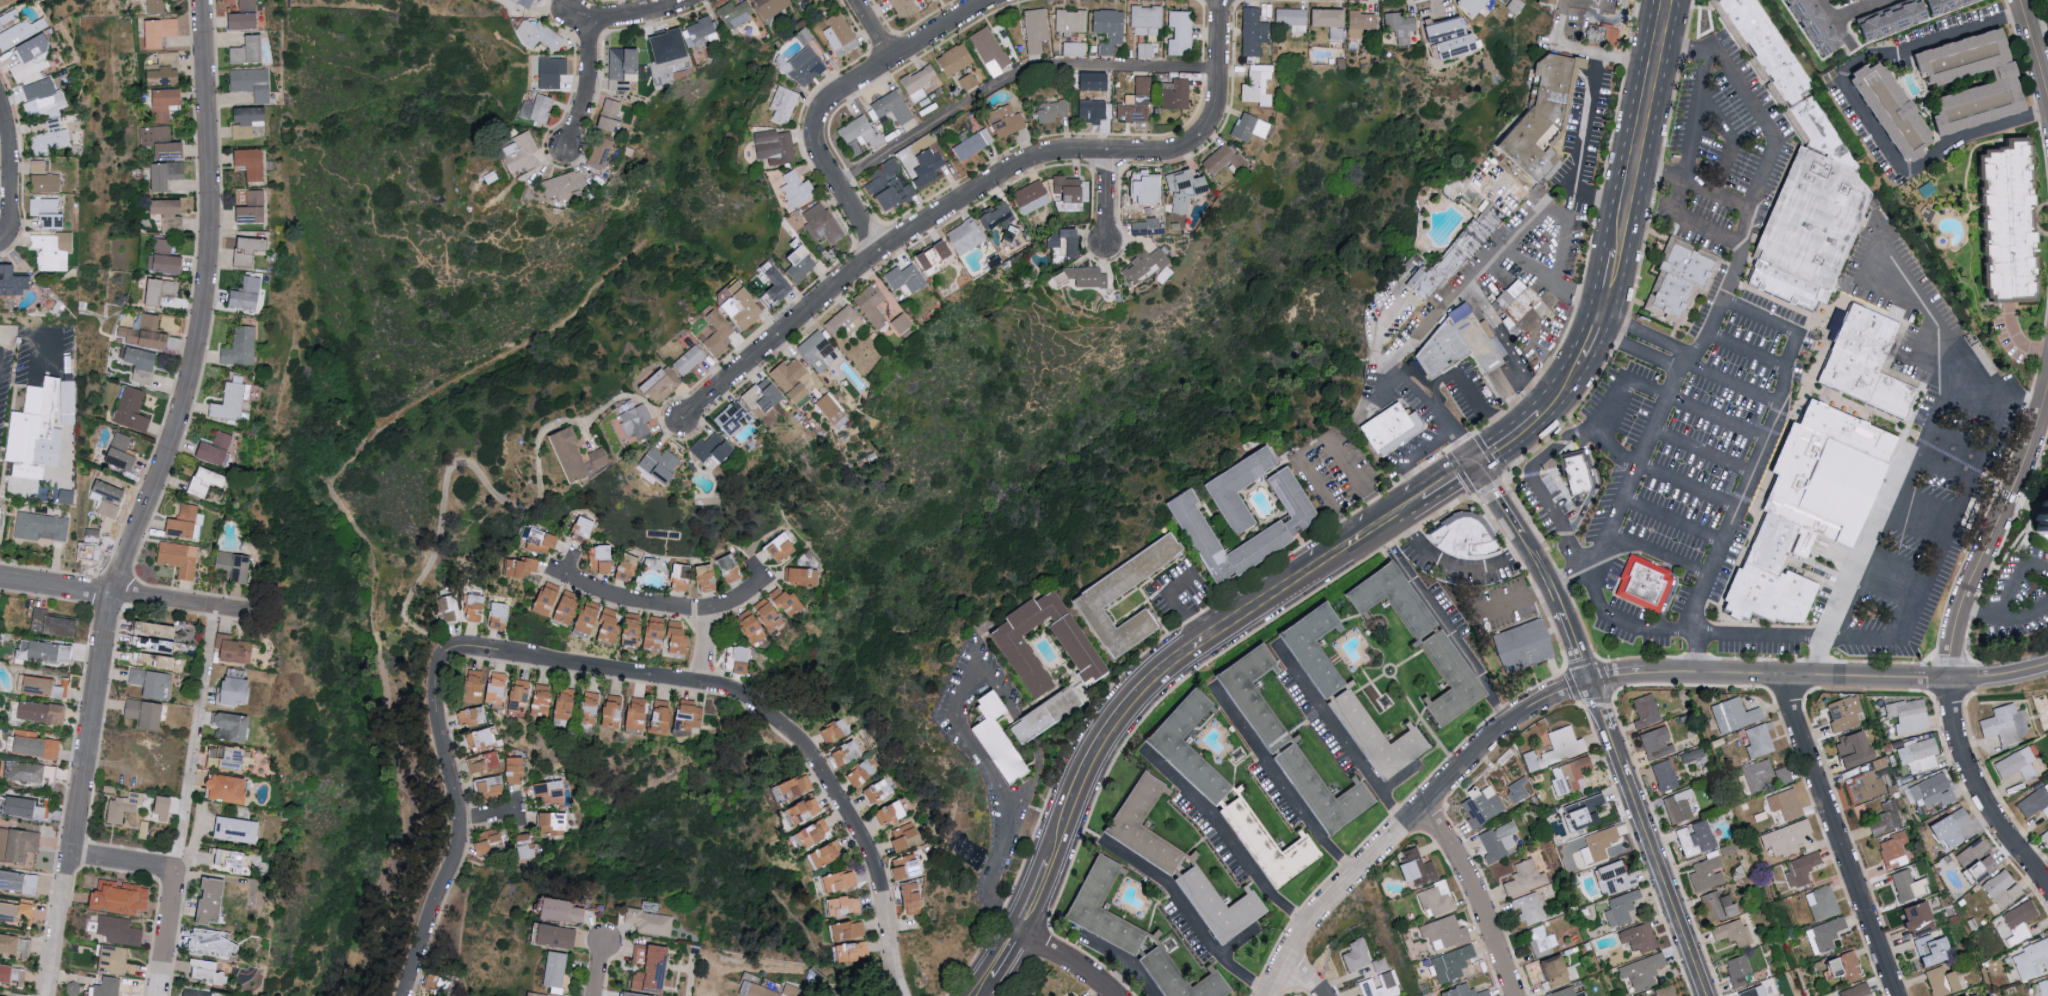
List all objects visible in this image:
building: (541, 0)
building: (932, 0)
building: (1552, 1)
building: (7, 2)
building: (526, 2)
road: (1869, 2)
building: (247, 5)
building: (1474, 5)
building: (1943, 5)
building: (157, 6)
building: (1515, 6)
road: (1584, 6)
building: (906, 8)
road: (1858, 9)
building: (737, 14)
building: (9, 17)
road: (633, 18)
building: (1147, 20)
building: (1293, 20)
building: (245, 21)
building: (1071, 21)
road: (1836, 21)
building: (1333, 22)
building: (1889, 22)
building: (1362, 24)
building: (1811, 25)
building: (1401, 26)
road: (2038, 27)
building: (1110, 29)
building: (1037, 30)
building: (21, 31)
building: (161, 31)
road: (873, 32)
building: (1255, 32)
building: (700, 33)
building: (1182, 33)
building: (540, 35)
building: (841, 35)
building: (1604, 38)
building: (665, 41)
road: (1682, 45)
road: (2034, 45)
building: (989, 47)
building: (1074, 49)
building: (249, 50)
building: (1145, 50)
road: (1582, 51)
building: (32, 57)
building: (956, 59)
road: (1726, 64)
building: (165, 70)
building: (552, 72)
road: (1014, 75)
building: (1783, 77)
building: (253, 83)
building: (920, 85)
building: (1144, 85)
building: (1258, 85)
building: (1992, 85)
road: (588, 87)
building: (1177, 94)
road: (842, 95)
building: (166, 102)
building: (44, 104)
building: (784, 104)
building: (893, 107)
building: (1092, 108)
building: (538, 109)
road: (1854, 109)
building: (1053, 110)
building: (1133, 112)
building: (1887, 112)
building: (611, 113)
building: (248, 121)
building: (1009, 121)
building: (1547, 122)
road: (1640, 126)
building: (861, 131)
building: (52, 136)
road: (1729, 141)
building: (163, 142)
building: (973, 145)
building: (775, 146)
road: (1579, 150)
building: (524, 153)
building: (601, 153)
building: (1225, 160)
building: (253, 163)
road: (22, 167)
building: (928, 167)
road: (9, 169)
building: (166, 175)
building: (46, 183)
building: (566, 185)
building: (890, 185)
building: (1146, 186)
building: (798, 189)
building: (1071, 189)
building: (1186, 189)
road: (979, 191)
building: (1032, 197)
road: (1107, 198)
building: (254, 208)
building: (48, 213)
building: (170, 213)
building: (1002, 216)
road: (1564, 221)
building: (822, 222)
road: (1690, 224)
building: (2000, 225)
building: (1477, 227)
building: (1148, 228)
road: (1746, 230)
building: (1814, 232)
building: (966, 236)
road: (5, 239)
building: (1067, 241)
building: (53, 250)
building: (250, 250)
building: (937, 255)
building: (165, 259)
building: (801, 261)
building: (1145, 266)
building: (1090, 277)
building: (907, 278)
road: (1610, 279)
building: (14, 281)
building: (1682, 282)
building: (779, 287)
road: (1888, 288)
building: (162, 291)
building: (248, 294)
building: (873, 305)
road: (1924, 305)
building: (745, 306)
building: (1520, 307)
building: (844, 323)
building: (902, 323)
road: (1432, 324)
road: (1625, 328)
road: (1595, 331)
building: (146, 332)
building: (719, 333)
road: (22, 334)
road: (2013, 342)
road: (1, 343)
road: (1618, 343)
building: (240, 346)
building: (1475, 346)
road: (1510, 346)
road: (45, 351)
building: (820, 351)
building: (1438, 352)
road: (1746, 352)
road: (1915, 355)
building: (690, 360)
parking lot: (32, 362)
building: (143, 365)
building: (1870, 366)
building: (794, 380)
road: (1565, 383)
building: (662, 385)
road: (1732, 386)
building: (771, 395)
road: (1815, 396)
building: (67, 398)
building: (231, 400)
road: (1429, 401)
road: (2047, 402)
building: (132, 410)
building: (832, 411)
road: (1542, 411)
building: (733, 418)
road: (1443, 418)
road: (1718, 419)
building: (637, 422)
building: (32, 429)
road: (1523, 429)
road: (178, 432)
building: (1395, 432)
road: (1464, 446)
building: (216, 448)
building: (714, 448)
road: (1423, 450)
road: (1491, 452)
road: (1702, 452)
building: (122, 453)
building: (571, 455)
road: (1620, 456)
building: (599, 457)
traffic signals: (1478, 462)
road: (1635, 463)
building: (661, 465)
road: (1758, 465)
road: (1969, 466)
parking lot: (1331, 474)
building: (1575, 475)
building: (207, 481)
road: (1450, 481)
road: (1534, 482)
road: (1355, 484)
road: (1903, 484)
building: (1233, 491)
road: (492, 493)
building: (108, 498)
road: (1325, 502)
road: (1412, 506)
building: (1806, 514)
road: (1671, 521)
building: (185, 522)
building: (585, 526)
building: (40, 527)
building: (2040, 530)
building: (1278, 531)
road: (1409, 532)
road: (1949, 534)
building: (93, 537)
road: (1994, 537)
building: (540, 539)
road: (1359, 541)
building: (1466, 541)
building: (782, 547)
road: (1518, 553)
road: (1655, 554)
building: (603, 557)
building: (181, 558)
building: (727, 563)
building: (236, 565)
parking lot: (1458, 565)
building: (521, 566)
building: (629, 566)
road: (1462, 569)
road: (576, 570)
building: (685, 570)
building: (803, 575)
building: (708, 577)
road: (2016, 577)
building: (1124, 579)
building: (1646, 587)
road: (133, 594)
parking lot: (1176, 596)
building: (549, 599)
road: (741, 599)
road: (1513, 599)
road: (627, 600)
building: (791, 601)
building: (1387, 601)
building: (449, 607)
building: (475, 607)
road: (1263, 607)
building: (570, 608)
parking lot: (1498, 609)
road: (1177, 611)
building: (772, 612)
road: (1978, 617)
road: (2023, 617)
building: (592, 619)
building: (53, 623)
road: (1621, 623)
building: (755, 625)
building: (157, 628)
building: (623, 629)
building: (657, 634)
building: (680, 638)
road: (1777, 638)
building: (148, 641)
road: (1453, 642)
building: (235, 648)
road: (705, 648)
building: (1526, 649)
building: (1310, 650)
building: (47, 651)
building: (1081, 655)
building: (738, 658)
building: (160, 659)
road: (1685, 672)
road: (1999, 675)
road: (1865, 678)
building: (152, 681)
building: (476, 681)
road: (967, 683)
building: (1447, 683)
building: (44, 686)
building: (237, 688)
building: (496, 689)
building: (521, 696)
building: (1251, 699)
building: (543, 700)
building: (564, 702)
building: (592, 707)
building: (1643, 710)
building: (43, 712)
building: (146, 712)
building: (627, 712)
building: (1842, 712)
building: (1732, 714)
building: (1907, 715)
building: (663, 716)
road: (765, 717)
building: (1045, 717)
building: (690, 718)
road: (1605, 722)
building: (2002, 724)
building: (234, 726)
building: (836, 730)
road: (1105, 736)
road: (195, 737)
road: (1337, 737)
building: (480, 738)
building: (996, 738)
building: (1372, 739)
building: (1756, 740)
building: (1654, 742)
building: (1559, 745)
building: (37, 746)
building: (1850, 748)
building: (847, 752)
building: (1917, 754)
building: (485, 762)
building: (2012, 764)
building: (1183, 767)
building: (517, 770)
building: (29, 771)
building: (51, 771)
building: (860, 772)
building: (1567, 774)
building: (1662, 775)
building: (1763, 775)
road: (1278, 785)
building: (232, 787)
building: (491, 787)
building: (1863, 787)
building: (794, 788)
building: (879, 791)
building: (1929, 791)
building: (552, 792)
road: (1975, 792)
building: (1317, 794)
road: (1020, 801)
building: (2032, 802)
building: (1479, 804)
building: (1782, 805)
building: (1676, 806)
building: (25, 807)
building: (124, 807)
building: (166, 808)
building: (1134, 808)
building: (804, 810)
building: (893, 812)
building: (1577, 815)
road: (491, 816)
road: (1407, 816)
building: (1882, 818)
road: (462, 821)
building: (553, 823)
building: (1946, 827)
building: (239, 829)
building: (813, 833)
road: (1840, 835)
building: (907, 836)
building: (2044, 836)
building: (1782, 838)
building: (1692, 839)
road: (1224, 840)
building: (1496, 840)
building: (489, 841)
building: (18, 843)
building: (525, 846)
building: (1594, 846)
building: (1265, 847)
building: (1891, 849)
building: (826, 853)
building: (234, 857)
building: (1972, 858)
road: (123, 859)
building: (907, 866)
building: (1412, 867)
building: (1799, 868)
building: (1704, 873)
road: (993, 875)
building: (1522, 877)
building: (1611, 877)
building: (838, 880)
building: (1902, 884)
building: (2000, 889)
road: (1477, 894)
building: (121, 897)
road: (1032, 898)
building: (1434, 898)
building: (916, 899)
building: (215, 900)
building: (1820, 902)
building: (843, 905)
building: (1714, 905)
building: (1527, 907)
building: (1617, 908)
building: (1216, 909)
building: (563, 910)
building: (9, 911)
building: (1098, 911)
building: (28, 912)
building: (1911, 914)
road: (1187, 917)
building: (651, 921)
building: (2015, 921)
road: (59, 923)
building: (119, 930)
building: (848, 930)
road: (166, 932)
building: (1441, 932)
building: (1730, 932)
building: (1824, 933)
building: (558, 936)
building: (1636, 937)
building: (1539, 940)
building: (214, 942)
building: (12, 944)
building: (1928, 949)
building: (852, 951)
building: (1354, 954)
road: (1003, 955)
building: (2030, 958)
building: (116, 959)
road: (1067, 960)
building: (1449, 963)
road: (1121, 964)
building: (1841, 966)
building: (653, 967)
building: (556, 969)
road: (600, 969)
building: (1640, 970)
building: (1736, 970)
building: (210, 971)
building: (1551, 971)
building: (12, 973)
building: (1174, 979)
road: (1304, 979)
road: (1117, 980)
building: (1938, 980)
road: (707, 981)
building: (438, 985)
road: (984, 986)
building: (1379, 986)
building: (108, 987)
building: (2039, 988)
building: (1853, 990)
building: (765, 991)
building: (1460, 991)
building: (1664, 991)
building: (1564, 992)
building: (197, 993)
building: (638, 994)
building: (1, 995)
building: (536, 995)
building: (1076, 995)
building: (1959, 995)
building: (1971, 995)

